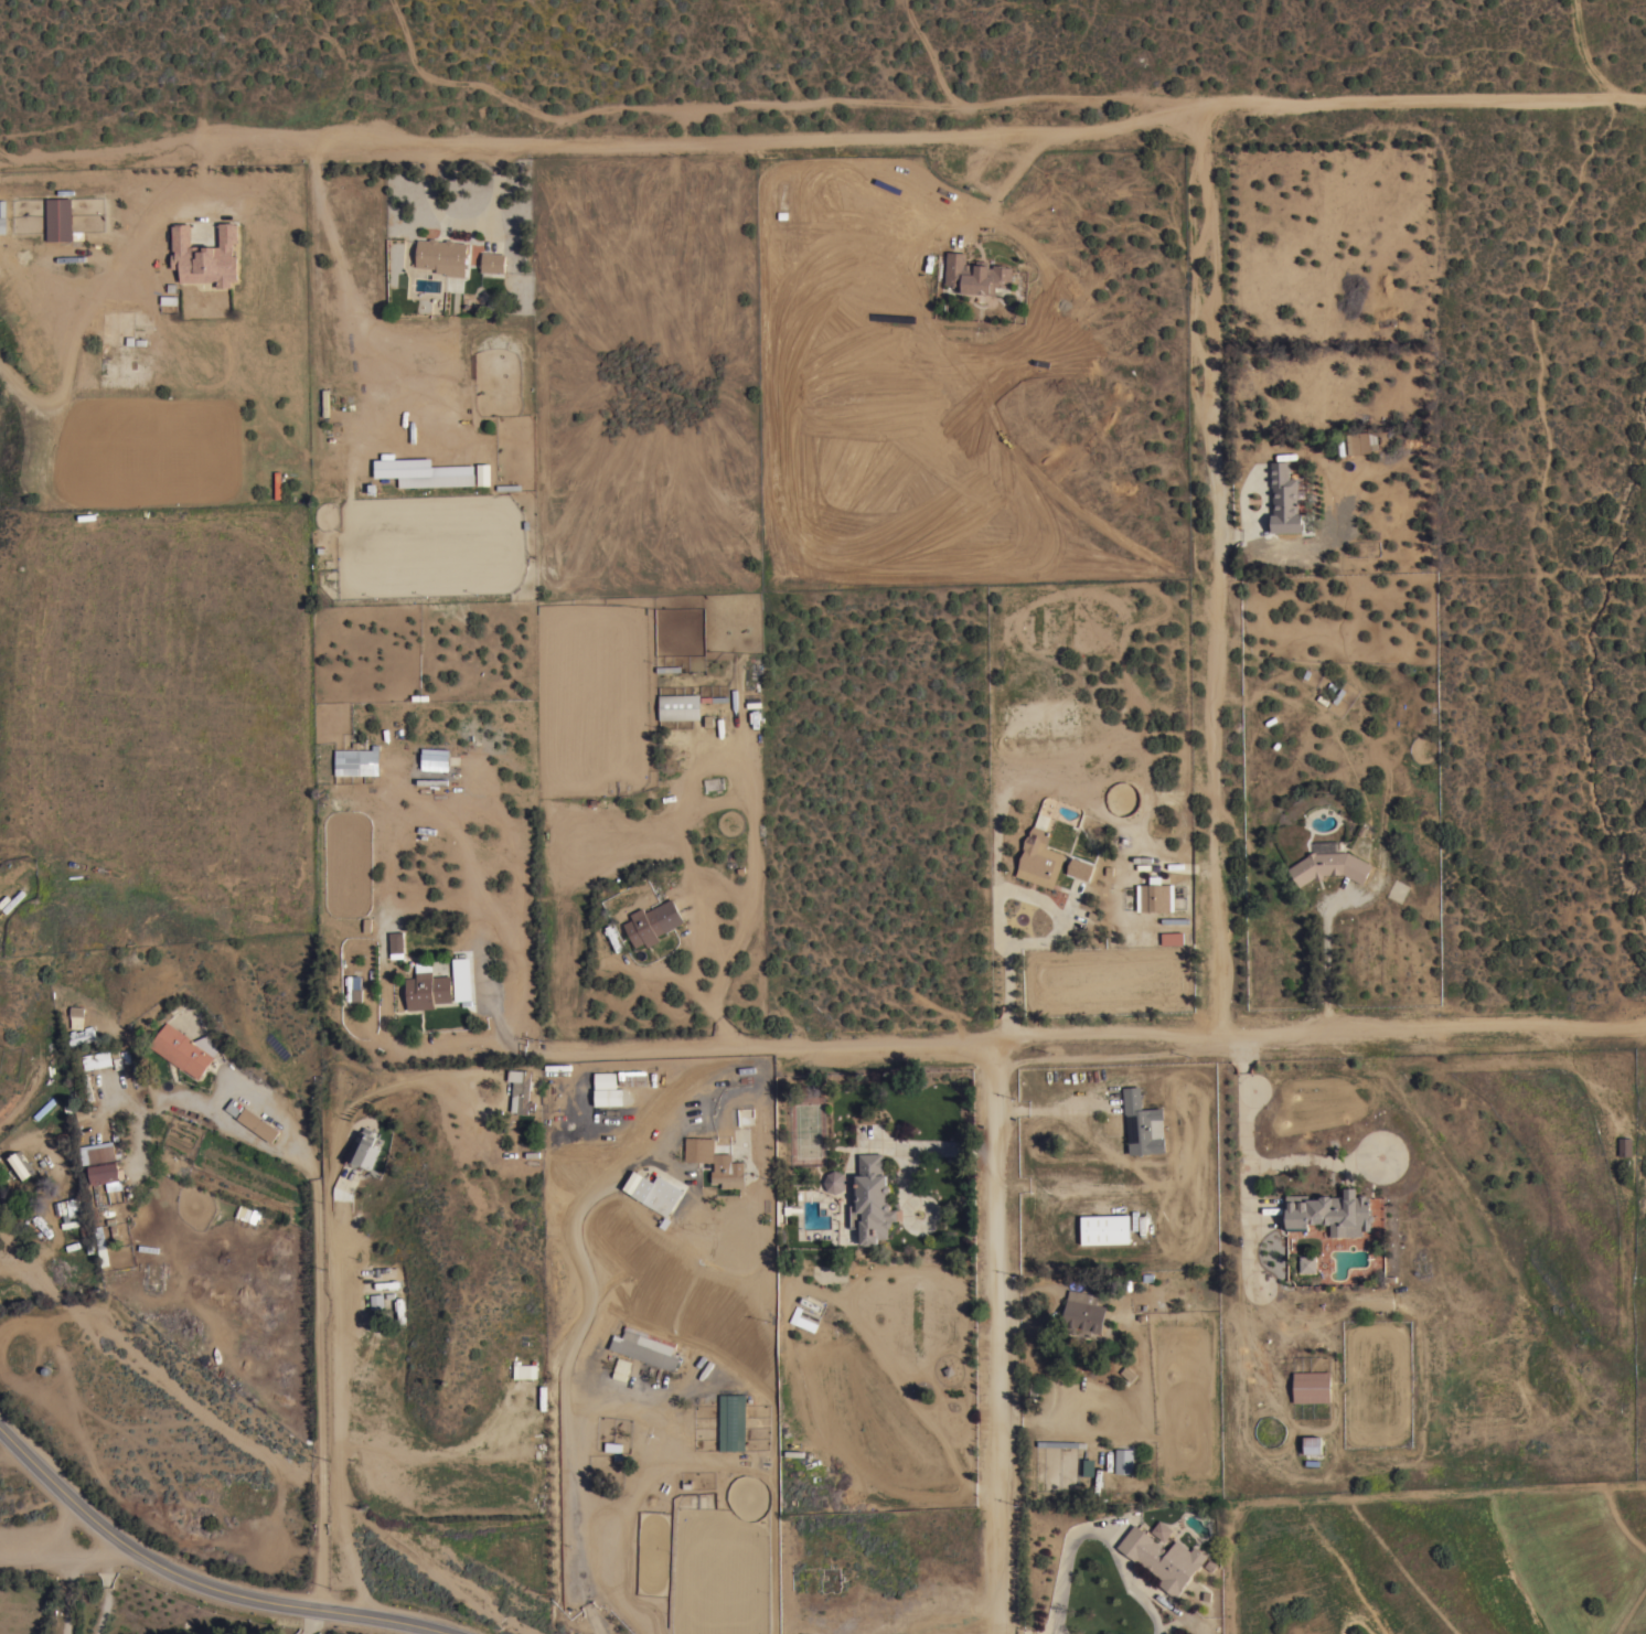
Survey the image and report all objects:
road: (976, 139)
road: (983, 212)
building: (56, 218)
road: (461, 224)
building: (442, 255)
building: (205, 256)
building: (492, 261)
building: (975, 274)
road: (72, 344)
building: (105, 353)
building: (125, 356)
building: (146, 357)
building: (325, 402)
building: (1357, 442)
building: (483, 473)
building: (436, 480)
building: (277, 484)
building: (1284, 499)
road: (1212, 574)
building: (678, 706)
building: (435, 759)
building: (357, 761)
building: (1039, 855)
building: (1329, 866)
building: (1079, 867)
road: (998, 894)
building: (1155, 895)
building: (13, 900)
building: (652, 921)
building: (612, 937)
building: (1172, 938)
building: (396, 941)
road: (1328, 962)
building: (461, 979)
building: (352, 989)
building: (427, 990)
building: (76, 1016)
building: (82, 1035)
road: (1077, 1038)
building: (183, 1048)
building: (96, 1059)
building: (632, 1078)
building: (607, 1089)
building: (521, 1090)
building: (44, 1108)
building: (253, 1120)
building: (1143, 1123)
building: (68, 1145)
building: (1625, 1145)
building: (360, 1147)
building: (699, 1150)
building: (20, 1165)
building: (106, 1173)
building: (727, 1176)
building: (834, 1181)
building: (658, 1194)
building: (870, 1200)
building: (74, 1206)
building: (1329, 1213)
building: (247, 1214)
building: (75, 1222)
building: (42, 1225)
building: (1104, 1228)
building: (113, 1229)
building: (101, 1246)
building: (1307, 1263)
road: (318, 1283)
road: (332, 1297)
building: (374, 1301)
building: (1079, 1313)
building: (804, 1317)
road: (997, 1337)
building: (644, 1347)
road: (574, 1356)
building: (521, 1370)
building: (1311, 1386)
building: (1034, 1389)
building: (731, 1421)
building: (1312, 1444)
building: (1088, 1466)
building: (1161, 1529)
building: (1162, 1558)
road: (70, 1562)
road: (199, 1582)
road: (73, 1599)
road: (319, 1623)

